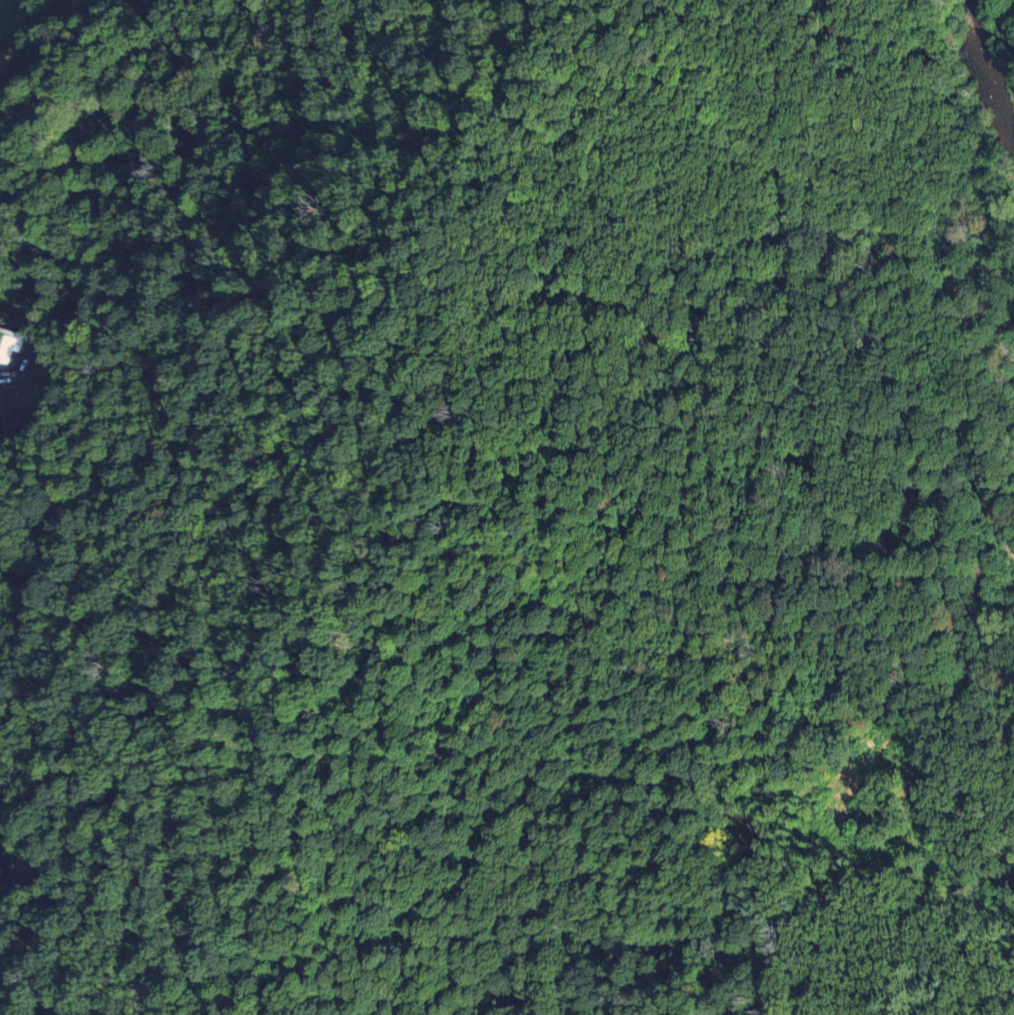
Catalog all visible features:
river: (982, 57)
building: (980, 488)
road: (998, 531)
building: (23, 872)
road: (23, 872)

